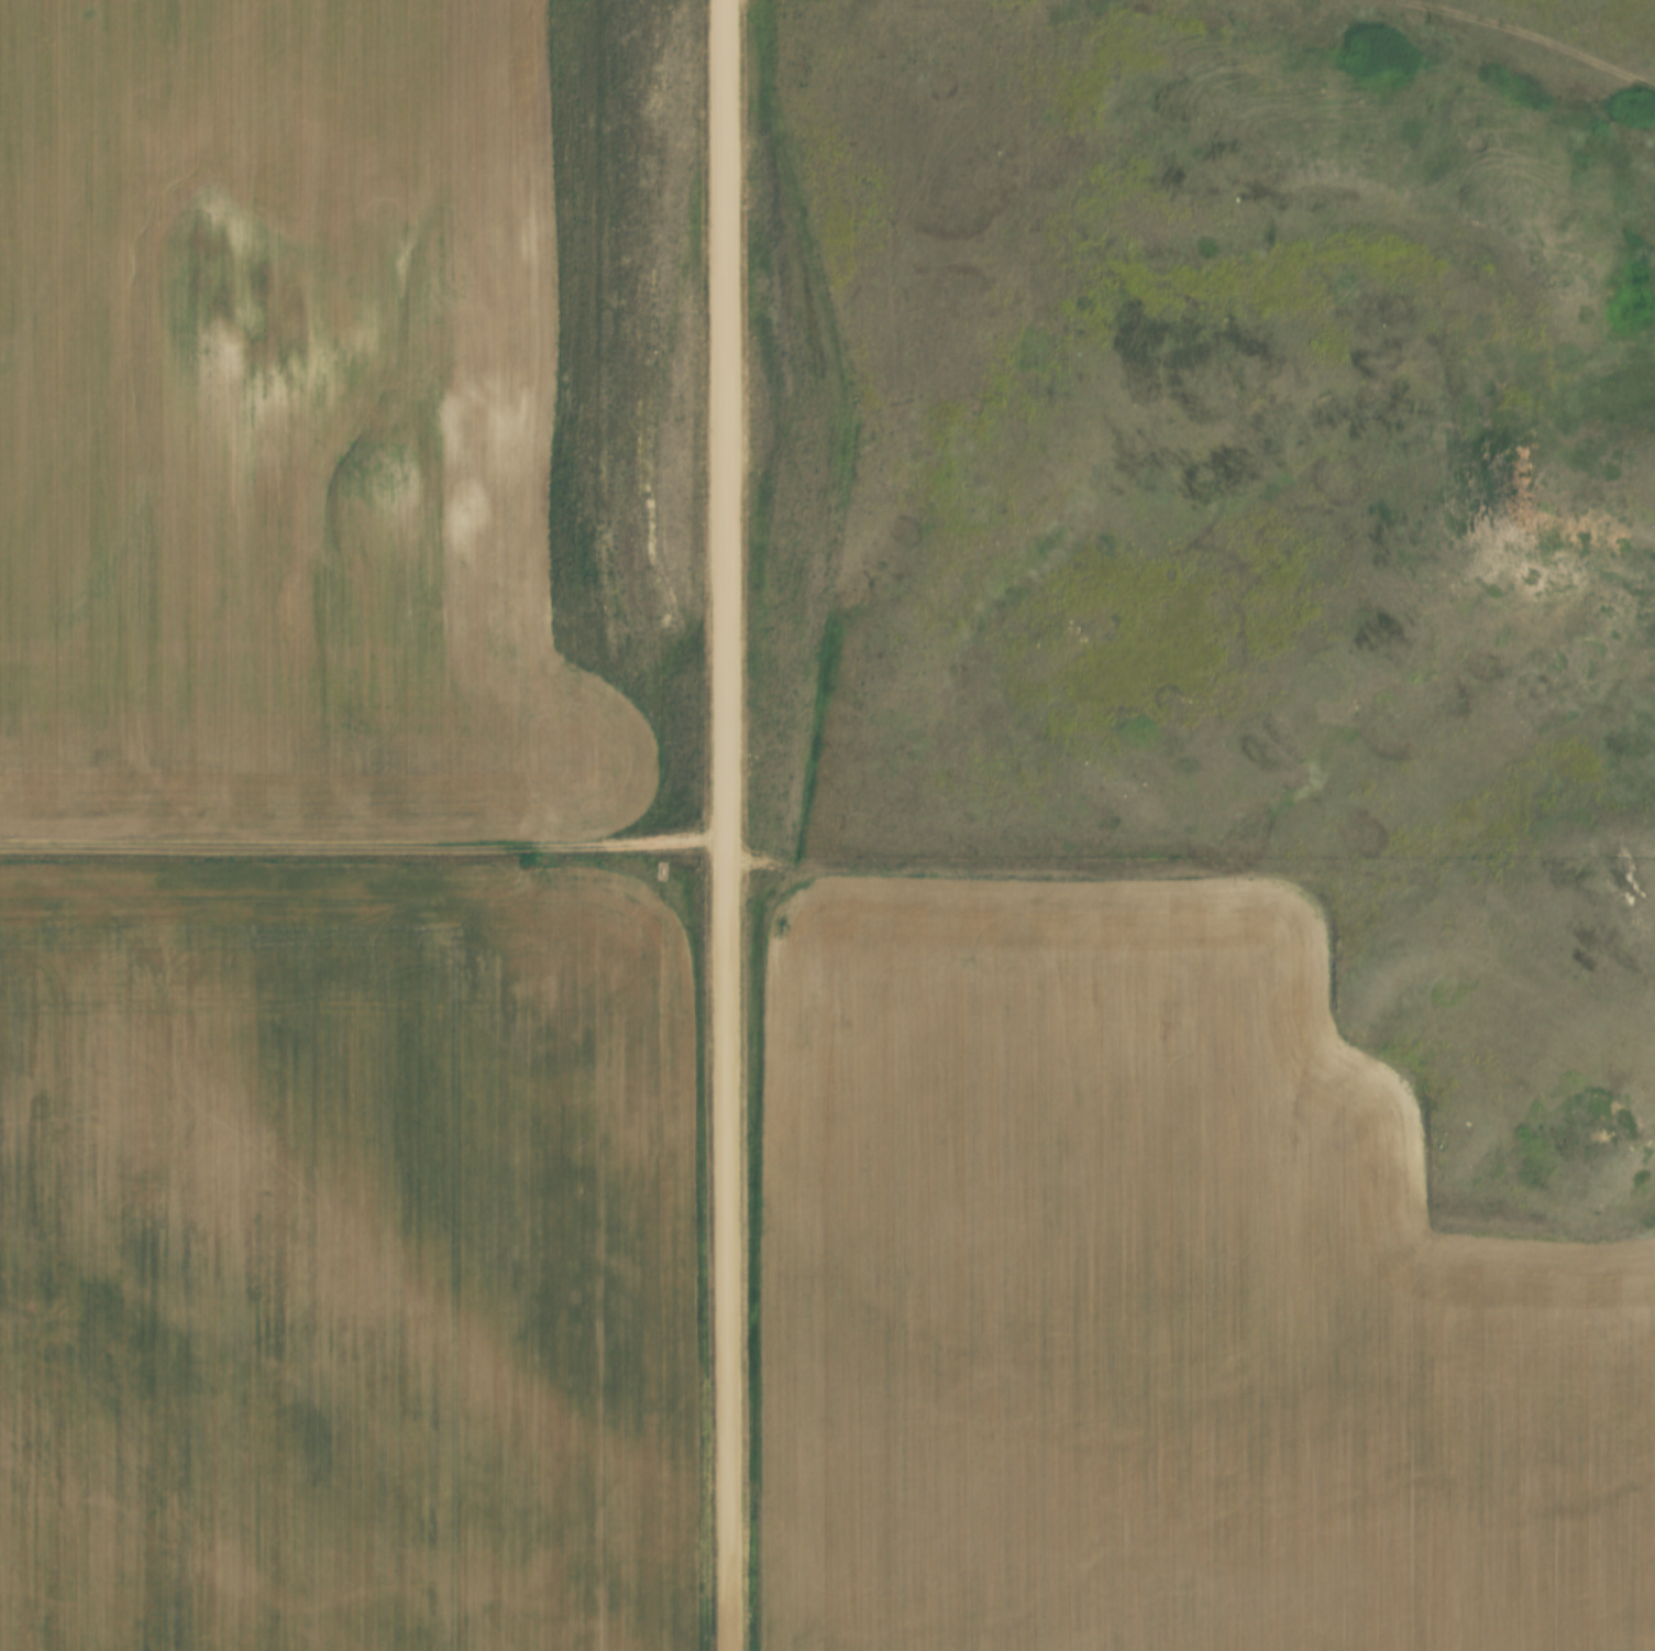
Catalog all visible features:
road: (1598, 24)
road: (898, 125)
road: (728, 825)
road: (538, 850)

